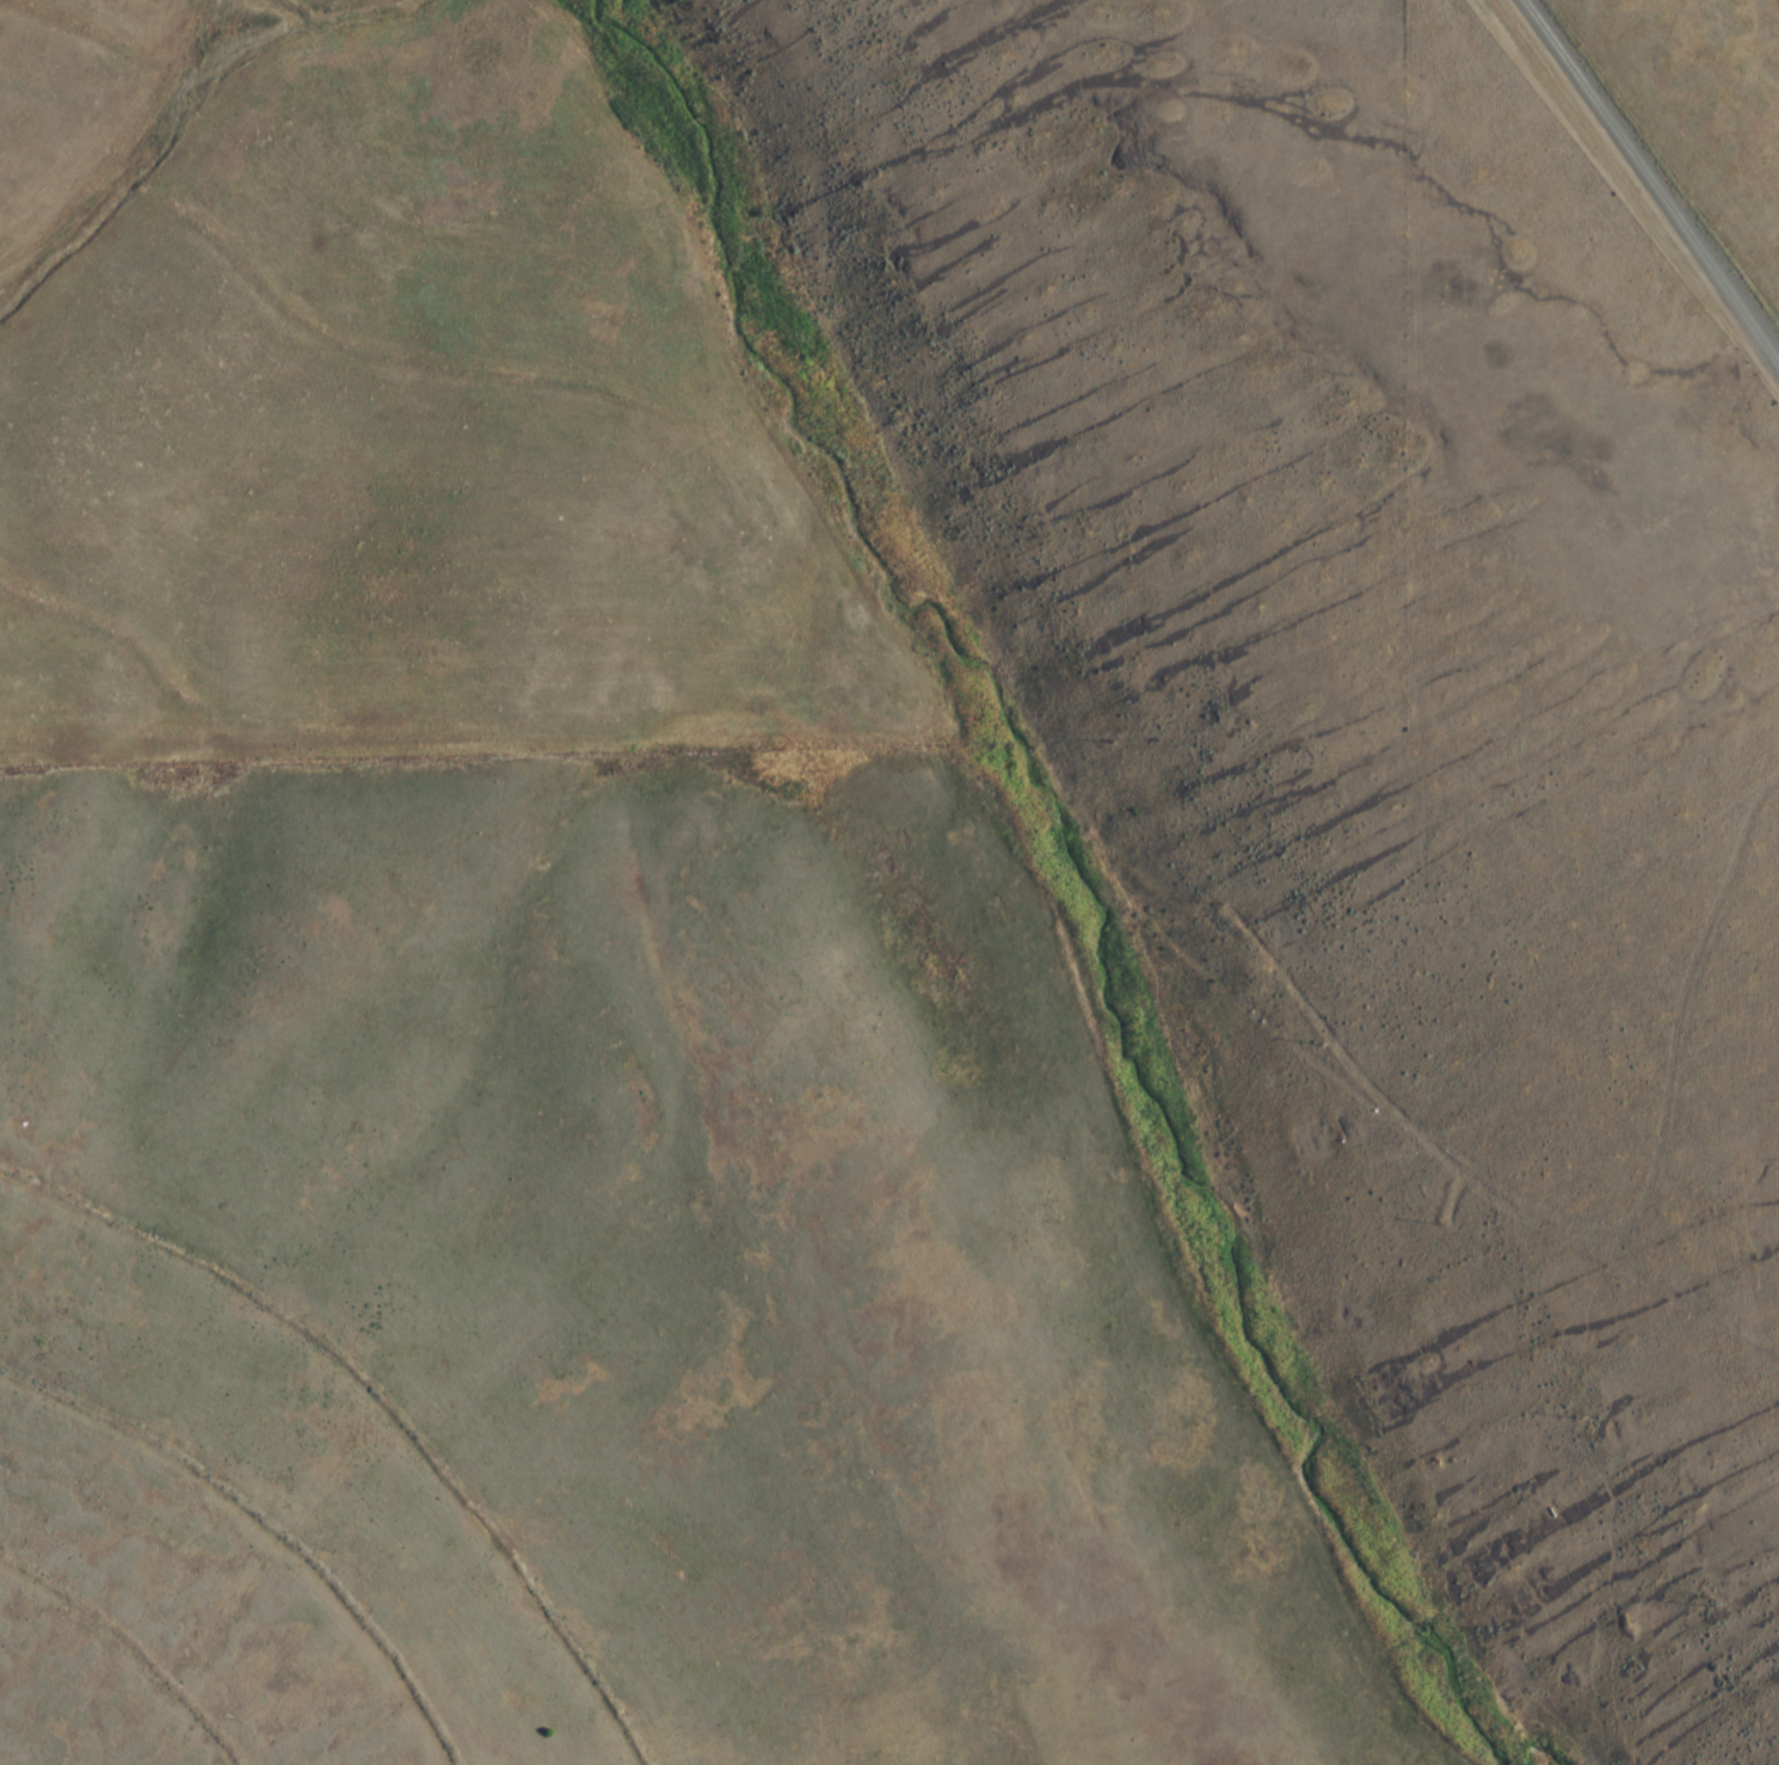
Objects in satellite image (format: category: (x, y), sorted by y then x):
road: (1655, 190)

